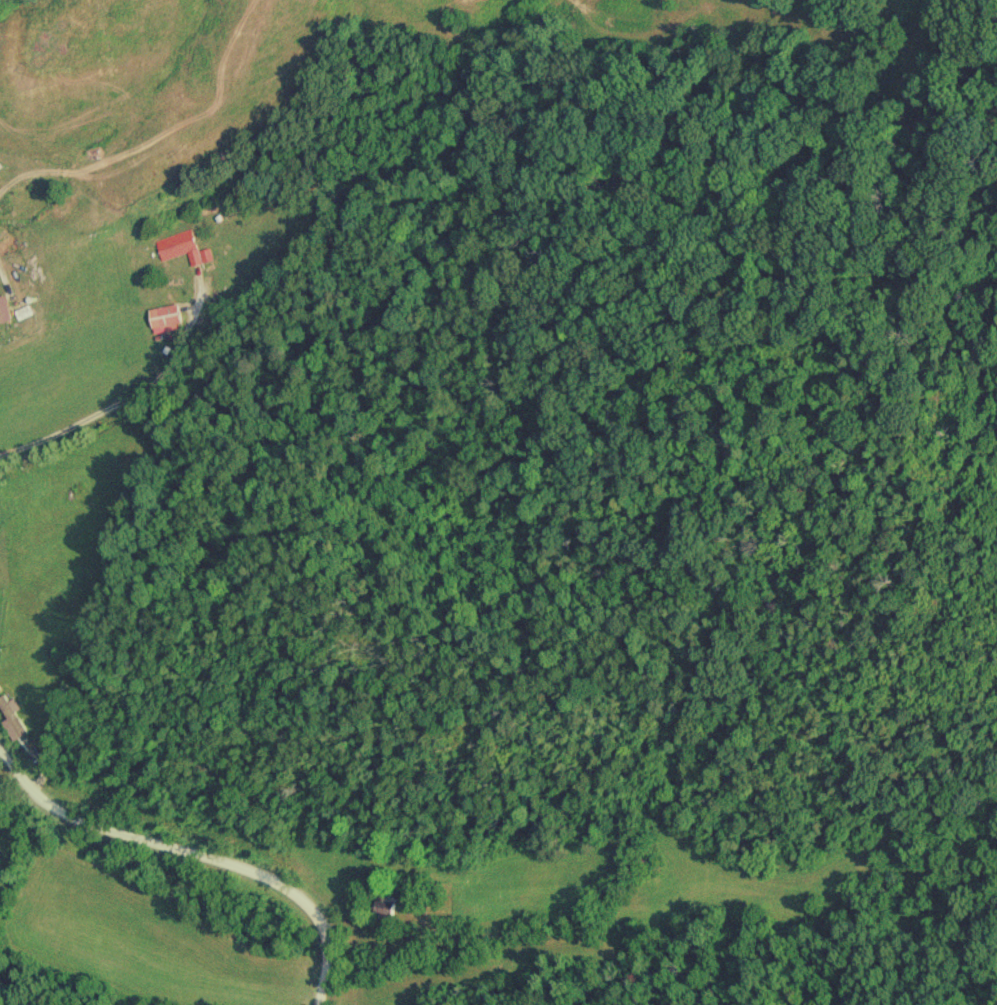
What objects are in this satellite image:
road: (124, 393)
road: (193, 863)

